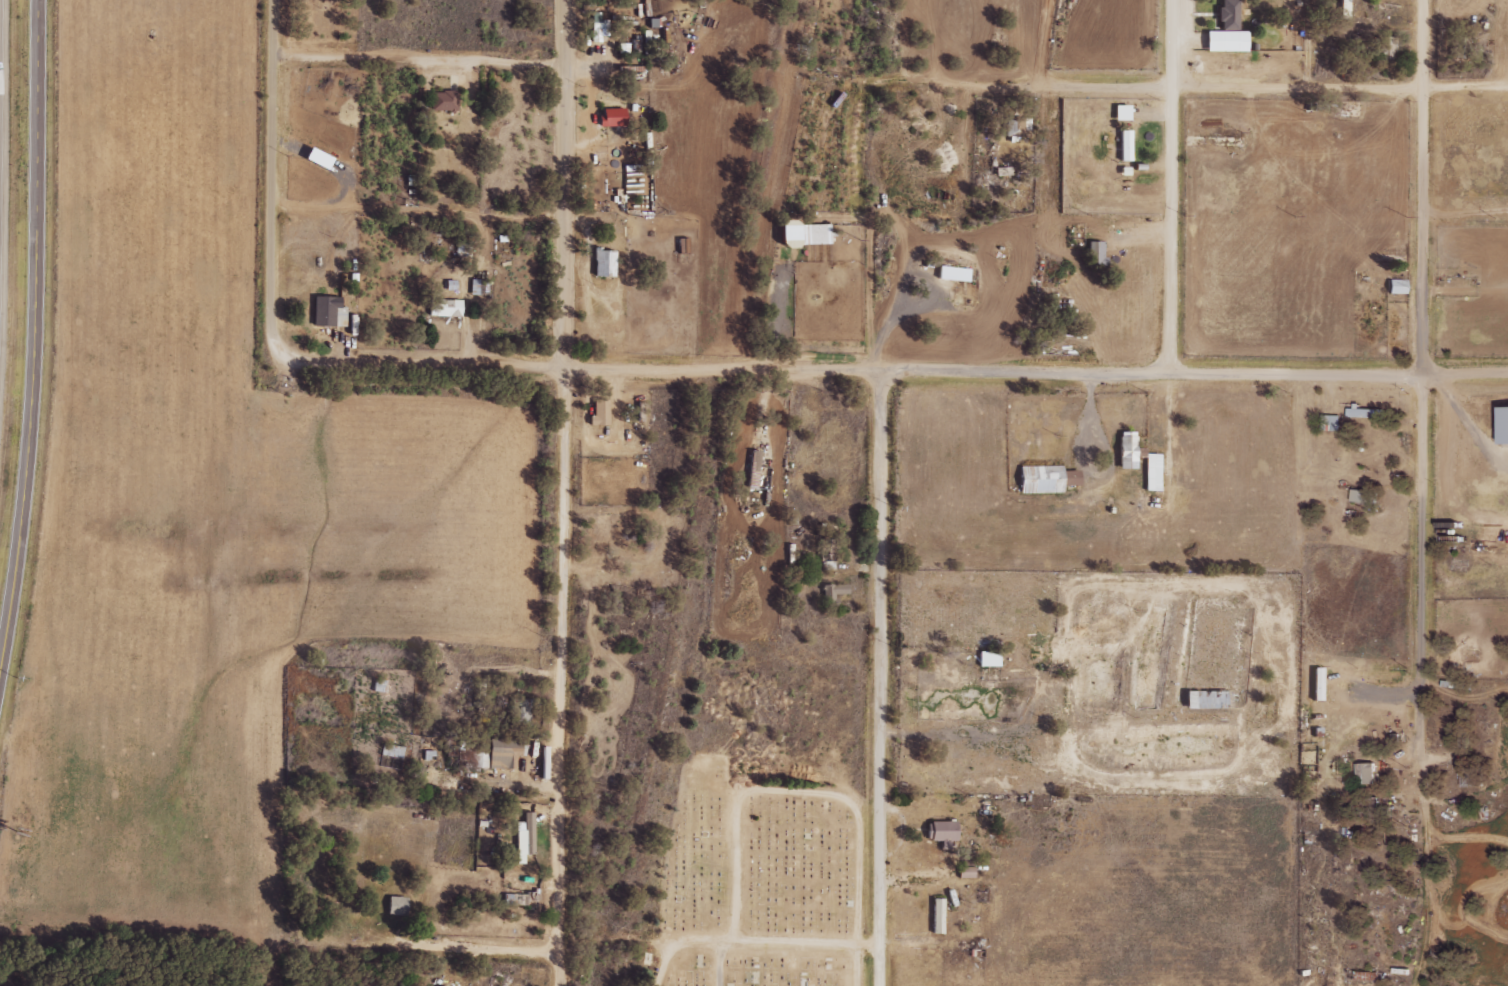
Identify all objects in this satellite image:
building: (1344, 1)
building: (596, 28)
building: (1224, 31)
road: (419, 62)
road: (1194, 86)
building: (441, 101)
building: (1119, 112)
building: (609, 117)
building: (1009, 126)
building: (1123, 146)
building: (314, 158)
road: (271, 164)
road: (1170, 185)
road: (3, 206)
building: (812, 234)
building: (680, 245)
building: (602, 263)
building: (952, 274)
building: (1395, 287)
building: (443, 308)
building: (326, 312)
road: (895, 324)
road: (34, 335)
road: (279, 348)
road: (585, 369)
road: (1191, 372)
road: (1422, 398)
building: (597, 413)
building: (1327, 422)
building: (1501, 425)
building: (1126, 453)
building: (1150, 472)
building: (755, 473)
building: (1043, 479)
railway: (700, 492)
road: (563, 493)
building: (1358, 496)
building: (831, 593)
building: (986, 659)
road: (876, 678)
building: (1314, 685)
building: (1203, 700)
building: (517, 710)
building: (392, 751)
building: (1363, 773)
road: (800, 796)
building: (939, 833)
building: (523, 837)
building: (965, 866)
park: (767, 881)
building: (395, 906)
building: (936, 915)
road: (760, 945)
road: (473, 947)
building: (657, 962)
building: (1364, 976)
building: (431, 985)

